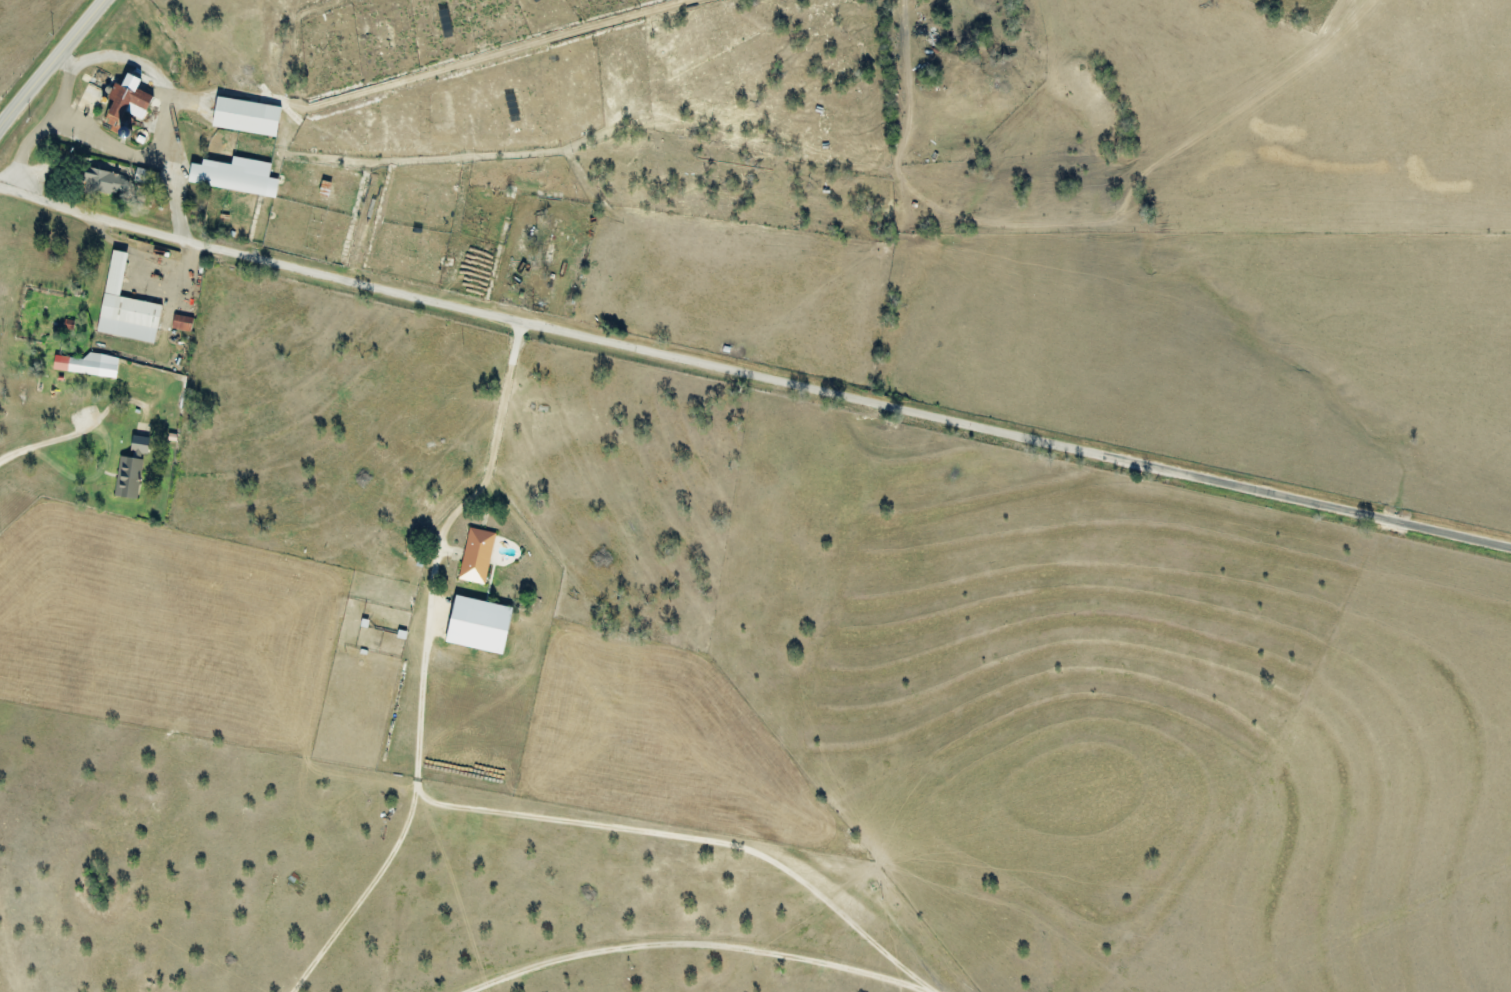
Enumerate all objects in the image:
road: (51, 61)
building: (119, 109)
building: (242, 116)
building: (230, 176)
building: (94, 180)
building: (320, 189)
building: (154, 201)
building: (219, 219)
building: (121, 307)
building: (176, 323)
road: (610, 345)
building: (83, 363)
building: (134, 442)
building: (123, 475)
road: (1367, 516)
building: (477, 555)
building: (481, 624)
road: (694, 943)

